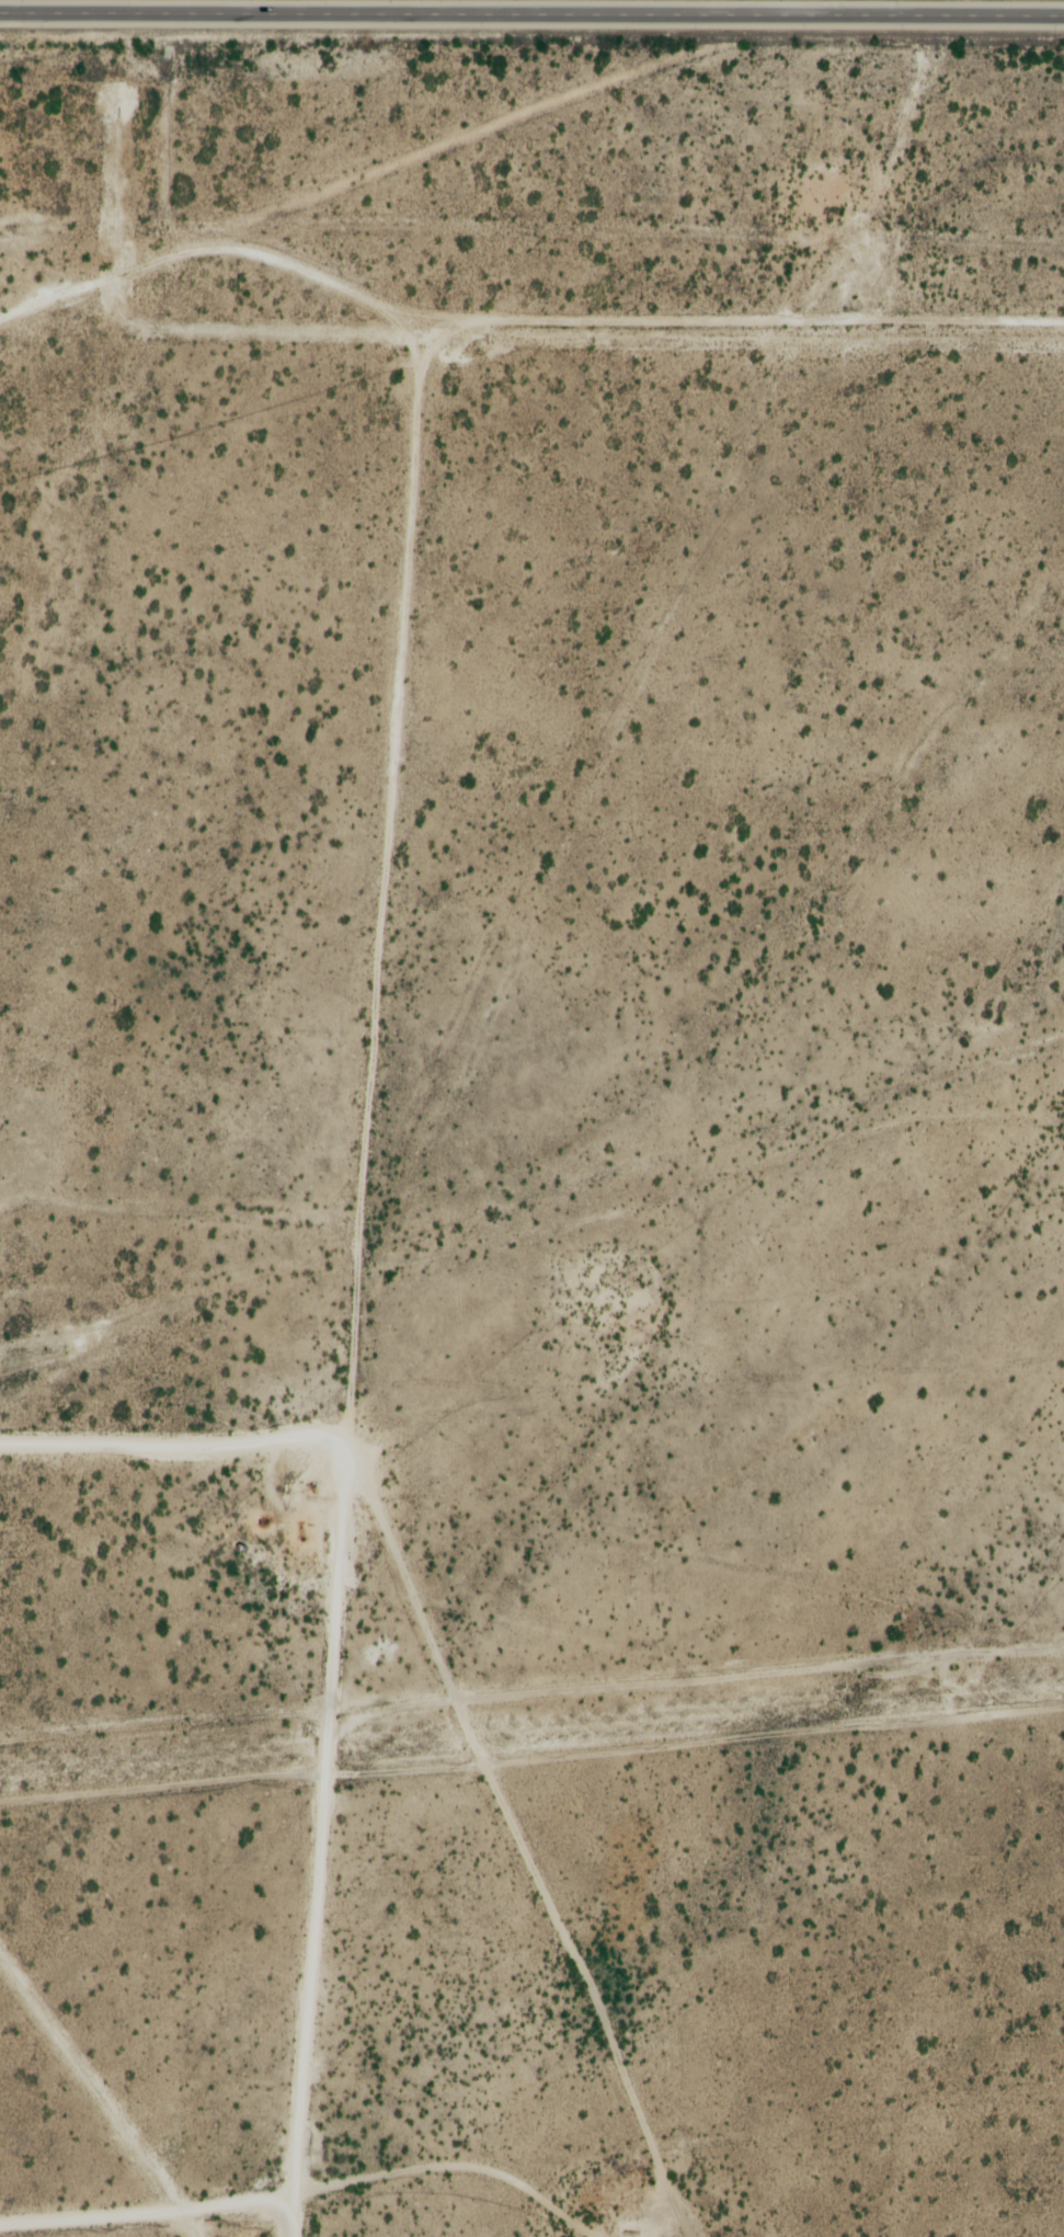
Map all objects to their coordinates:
road: (531, 18)
road: (502, 359)
road: (234, 904)
road: (175, 1842)
road: (366, 2085)

